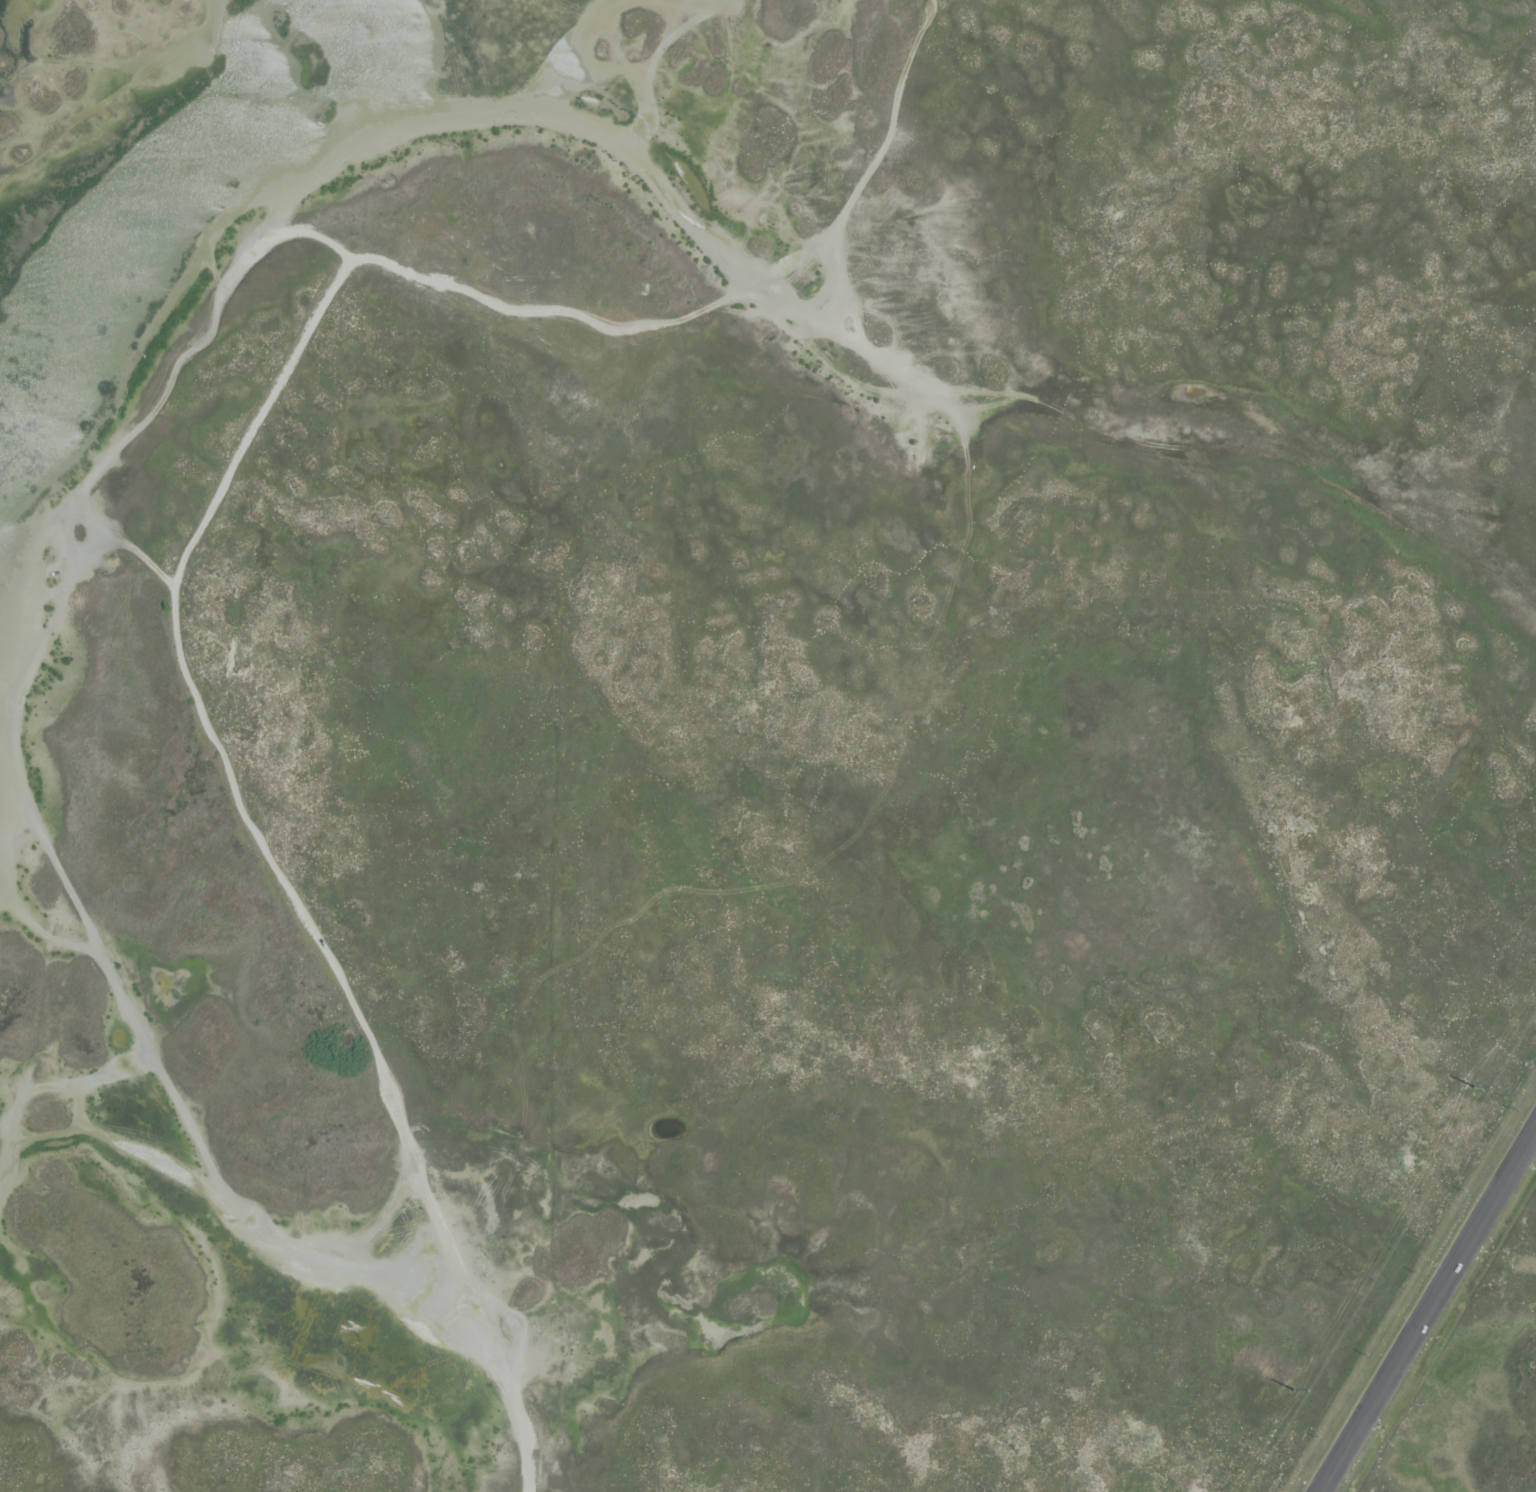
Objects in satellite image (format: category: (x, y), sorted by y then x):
park: (758, 735)
power tower: (1475, 1089)
road: (1431, 1316)
power tower: (1293, 1391)
park: (1478, 1394)

